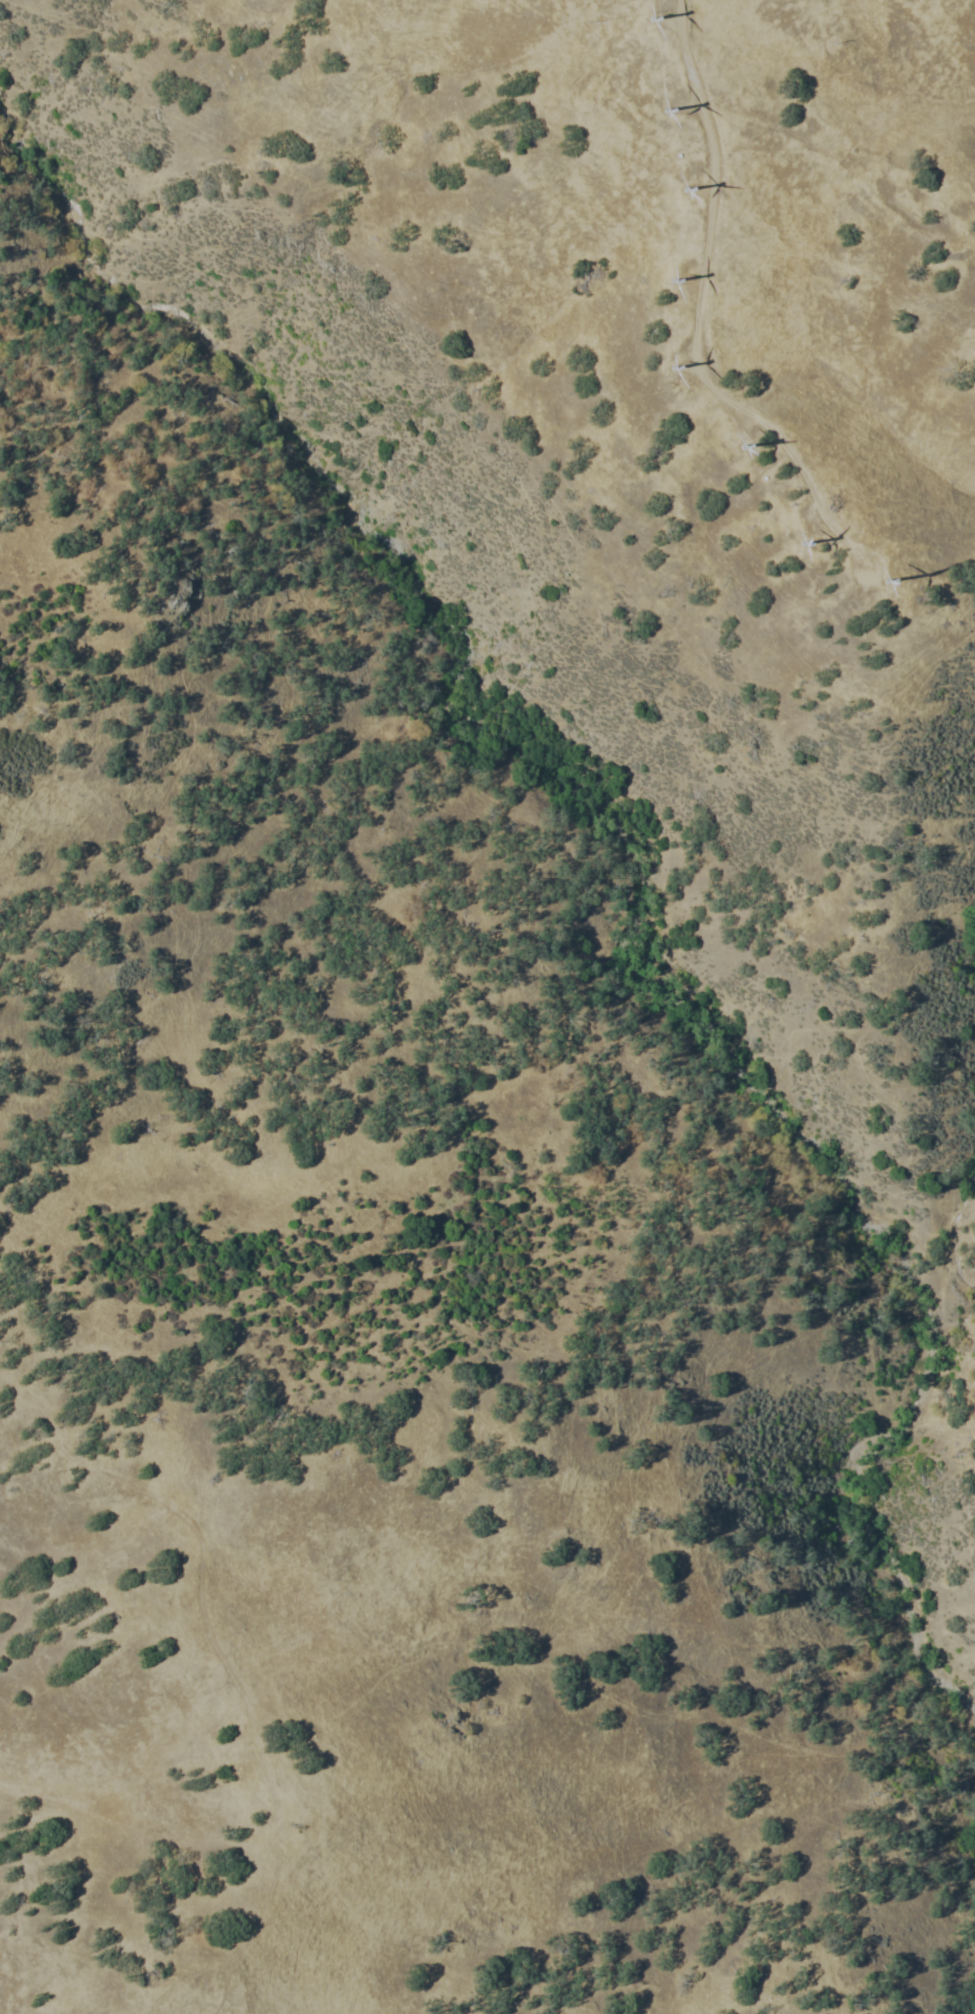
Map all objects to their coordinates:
wind turbine: (647, 18)
wind turbine: (657, 106)
wind turbine: (677, 185)
wind turbine: (669, 278)
road: (696, 318)
wind turbine: (670, 363)
wind turbine: (732, 444)
wind turbine: (795, 540)
wind turbine: (871, 582)
road: (149, 1502)
road: (16, 1539)
road: (274, 1869)

